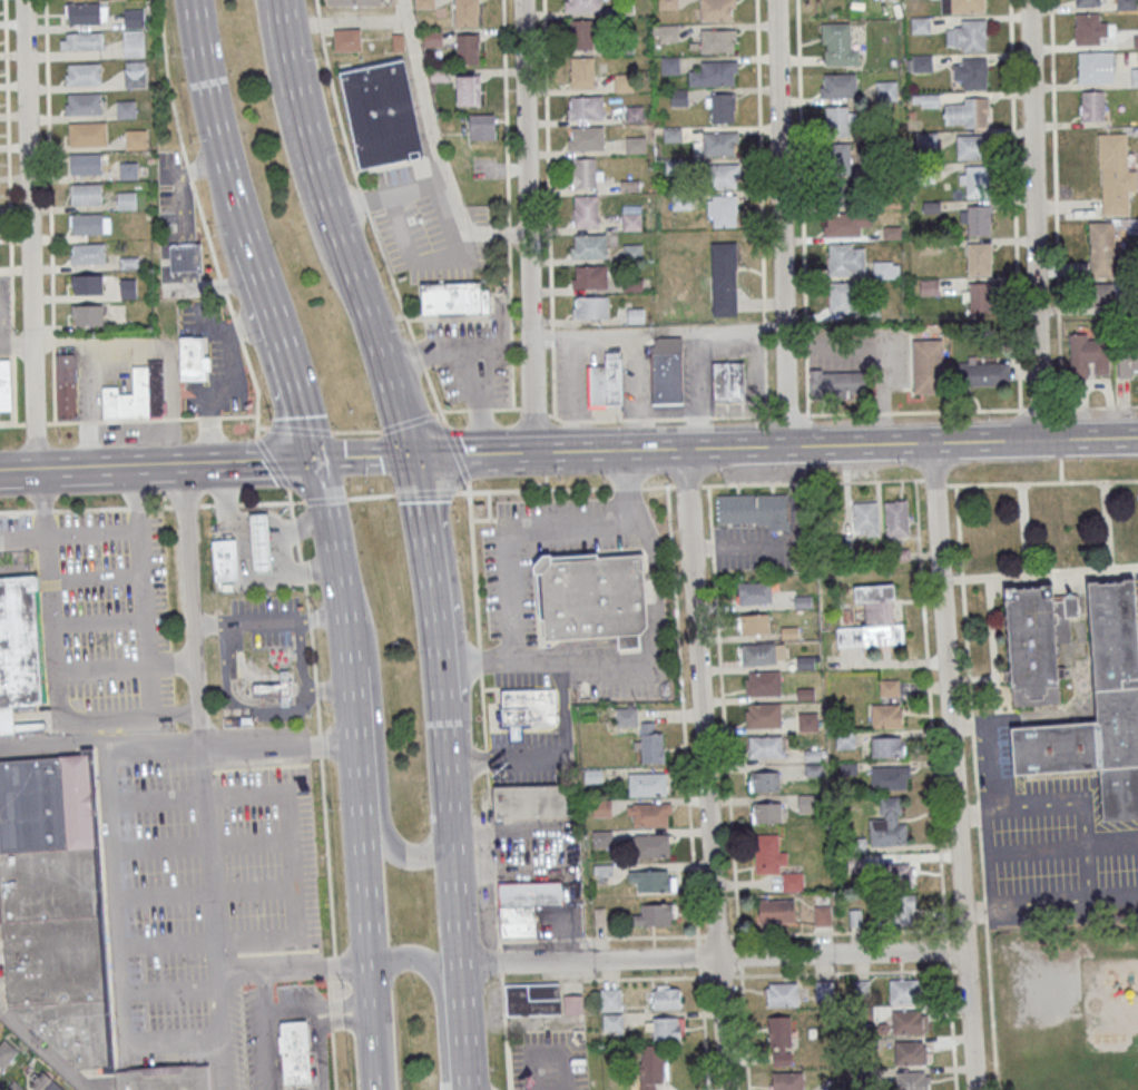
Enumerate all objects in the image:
building: (1087, 2)
building: (424, 3)
building: (962, 6)
building: (583, 7)
building: (717, 9)
building: (467, 12)
building: (85, 13)
building: (1089, 29)
building: (133, 32)
building: (668, 32)
building: (581, 35)
building: (967, 36)
building: (433, 37)
building: (347, 39)
building: (79, 40)
building: (717, 40)
building: (838, 45)
building: (467, 48)
building: (919, 63)
building: (1095, 67)
building: (581, 72)
building: (971, 72)
building: (84, 73)
building: (135, 73)
building: (714, 73)
building: (1135, 77)
building: (837, 86)
building: (468, 89)
building: (886, 90)
road: (333, 94)
building: (926, 100)
building: (84, 104)
building: (1092, 106)
building: (585, 107)
building: (722, 108)
building: (125, 109)
road: (303, 110)
road: (504, 112)
building: (965, 112)
building: (384, 115)
building: (837, 120)
road: (216, 122)
building: (482, 126)
building: (87, 132)
building: (135, 138)
building: (585, 138)
building: (926, 140)
building: (635, 144)
building: (719, 144)
building: (970, 147)
road: (438, 148)
road: (291, 155)
building: (838, 158)
road: (759, 159)
road: (185, 160)
road: (47, 163)
building: (85, 163)
road: (548, 164)
road: (8, 166)
building: (128, 170)
building: (585, 173)
building: (1115, 174)
building: (723, 176)
building: (975, 180)
building: (86, 194)
road: (390, 196)
road: (362, 199)
building: (126, 200)
road: (1014, 204)
road: (802, 207)
building: (722, 210)
building: (585, 212)
parking lot: (477, 218)
building: (631, 218)
building: (977, 219)
road: (1033, 219)
road: (779, 223)
building: (86, 224)
building: (845, 224)
road: (526, 226)
road: (508, 232)
road: (29, 235)
road: (1057, 243)
building: (590, 245)
building: (1101, 249)
building: (632, 252)
building: (87, 254)
road: (412, 257)
building: (185, 258)
building: (979, 258)
building: (846, 261)
building: (883, 271)
building: (589, 277)
building: (724, 278)
building: (87, 284)
building: (632, 284)
building: (128, 287)
building: (1101, 292)
building: (981, 297)
building: (454, 299)
building: (843, 299)
building: (590, 307)
building: (88, 314)
road: (405, 316)
road: (247, 323)
road: (510, 323)
road: (764, 326)
road: (236, 328)
road: (656, 328)
road: (552, 335)
road: (51, 337)
road: (376, 337)
road: (98, 341)
road: (12, 342)
road: (16, 343)
road: (454, 348)
road: (286, 352)
building: (1088, 355)
building: (192, 357)
road: (408, 357)
building: (1128, 359)
road: (228, 362)
building: (926, 366)
road: (765, 374)
building: (981, 374)
building: (667, 375)
road: (552, 379)
building: (832, 380)
building: (727, 381)
building: (605, 382)
building: (6, 384)
building: (67, 385)
road: (254, 387)
road: (12, 389)
road: (52, 391)
building: (137, 394)
parking lot: (233, 401)
road: (479, 401)
parking lot: (194, 404)
road: (504, 406)
road: (205, 407)
road: (479, 407)
road: (453, 409)
road: (532, 410)
road: (435, 413)
road: (803, 414)
road: (206, 416)
road: (237, 416)
road: (124, 420)
road: (404, 422)
road: (32, 423)
road: (7, 424)
road: (18, 424)
street lamp: (462, 426)
road: (259, 428)
road: (298, 430)
road: (354, 432)
road: (962, 442)
road: (673, 449)
road: (454, 452)
road: (488, 453)
traffic signals: (416, 458)
road: (366, 460)
traffic signals: (317, 462)
road: (249, 463)
road: (272, 463)
road: (90, 468)
street lamp: (557, 480)
road: (861, 481)
road: (1040, 482)
street lamp: (364, 483)
road: (744, 483)
road: (795, 483)
road: (932, 483)
road: (657, 484)
road: (687, 484)
road: (626, 487)
street lamp: (463, 490)
road: (540, 490)
road: (425, 492)
road: (462, 492)
road: (370, 495)
road: (796, 495)
street lamp: (609, 498)
road: (136, 499)
street lamp: (587, 499)
road: (323, 500)
street lamp: (521, 500)
street lamp: (555, 500)
road: (267, 502)
road: (224, 504)
road: (290, 504)
road: (178, 505)
road: (137, 508)
road: (90, 509)
road: (17, 510)
road: (42, 510)
road: (708, 510)
building: (754, 510)
building: (896, 518)
building: (865, 519)
road: (1105, 524)
street lamp: (492, 528)
road: (1022, 529)
road: (294, 531)
road: (69, 533)
road: (513, 533)
building: (259, 543)
road: (710, 544)
street lamp: (663, 547)
road: (744, 547)
gas station: (247, 551)
road: (297, 552)
parking lot: (752, 552)
building: (224, 561)
street lamp: (461, 561)
road: (339, 563)
road: (472, 564)
road: (312, 571)
road: (301, 572)
road: (1039, 575)
road: (95, 576)
road: (254, 576)
road: (430, 578)
street lamp: (482, 589)
building: (754, 592)
road: (49, 593)
road: (189, 597)
building: (593, 598)
parking lot: (509, 599)
parking lot: (100, 618)
building: (874, 619)
road: (99, 622)
road: (147, 622)
building: (754, 623)
street lamp: (467, 631)
road: (629, 641)
road: (649, 641)
building: (1037, 641)
road: (964, 644)
street lamp: (496, 645)
road: (592, 645)
building: (20, 648)
building: (757, 654)
road: (312, 658)
road: (479, 661)
road: (657, 662)
road: (182, 664)
road: (111, 667)
road: (226, 674)
parking lot: (521, 681)
building: (762, 683)
building: (889, 687)
building: (277, 688)
parking lot: (622, 691)
road: (929, 709)
building: (1099, 709)
building: (524, 711)
road: (482, 713)
road: (175, 715)
road: (681, 715)
building: (762, 715)
building: (886, 715)
road: (106, 717)
building: (808, 720)
road: (354, 738)
building: (845, 740)
building: (649, 743)
road: (320, 745)
building: (765, 746)
building: (887, 746)
road: (230, 748)
road: (724, 749)
road: (549, 759)
road: (484, 760)
parking lot: (523, 760)
road: (448, 764)
road: (951, 766)
road: (705, 768)
building: (890, 777)
building: (764, 780)
building: (648, 783)
road: (199, 797)
road: (488, 799)
road: (992, 801)
building: (49, 803)
building: (529, 804)
building: (766, 812)
road: (1059, 812)
building: (648, 814)
road: (977, 815)
building: (889, 823)
road: (361, 835)
road: (490, 835)
road: (562, 842)
road: (203, 845)
building: (651, 845)
road: (491, 853)
building: (768, 854)
road: (400, 855)
road: (327, 857)
road: (980, 864)
road: (492, 871)
road: (509, 872)
building: (896, 874)
building: (653, 881)
building: (51, 884)
parking lot: (205, 892)
road: (206, 892)
road: (454, 895)
road: (365, 896)
road: (117, 897)
road: (1049, 906)
road: (209, 907)
building: (522, 909)
building: (904, 910)
building: (776, 911)
road: (982, 912)
road: (494, 914)
building: (654, 915)
parking lot: (559, 923)
road: (958, 930)
road: (840, 932)
road: (716, 936)
road: (283, 939)
road: (600, 939)
road: (944, 950)
road: (697, 956)
road: (738, 956)
road: (712, 958)
road: (499, 961)
road: (273, 969)
road: (332, 969)
road: (352, 969)
road: (961, 971)
road: (843, 973)
road: (718, 976)
road: (604, 980)
building: (63, 985)
building: (824, 989)
road: (330, 990)
building: (904, 990)
road: (169, 991)
road: (438, 992)
building: (782, 994)
building: (666, 995)
building: (610, 999)
building: (540, 1000)
road: (292, 1003)
road: (990, 1006)
road: (340, 1012)
road: (373, 1012)
road: (330, 1014)
road: (286, 1017)
building: (909, 1021)
building: (611, 1023)
road: (950, 1024)
road: (462, 1025)
building: (666, 1028)
road: (266, 1029)
road: (702, 1029)
road: (743, 1029)
road: (503, 1031)
parking lot: (255, 1037)
road: (171, 1040)
building: (779, 1040)
building: (293, 1051)
building: (6, 1052)
road: (323, 1052)
building: (910, 1052)
road: (545, 1054)
road: (333, 1060)
building: (651, 1067)
building: (166, 1078)
building: (786, 1080)
building: (912, 1080)
building: (45, 1082)
building: (14, 1086)

